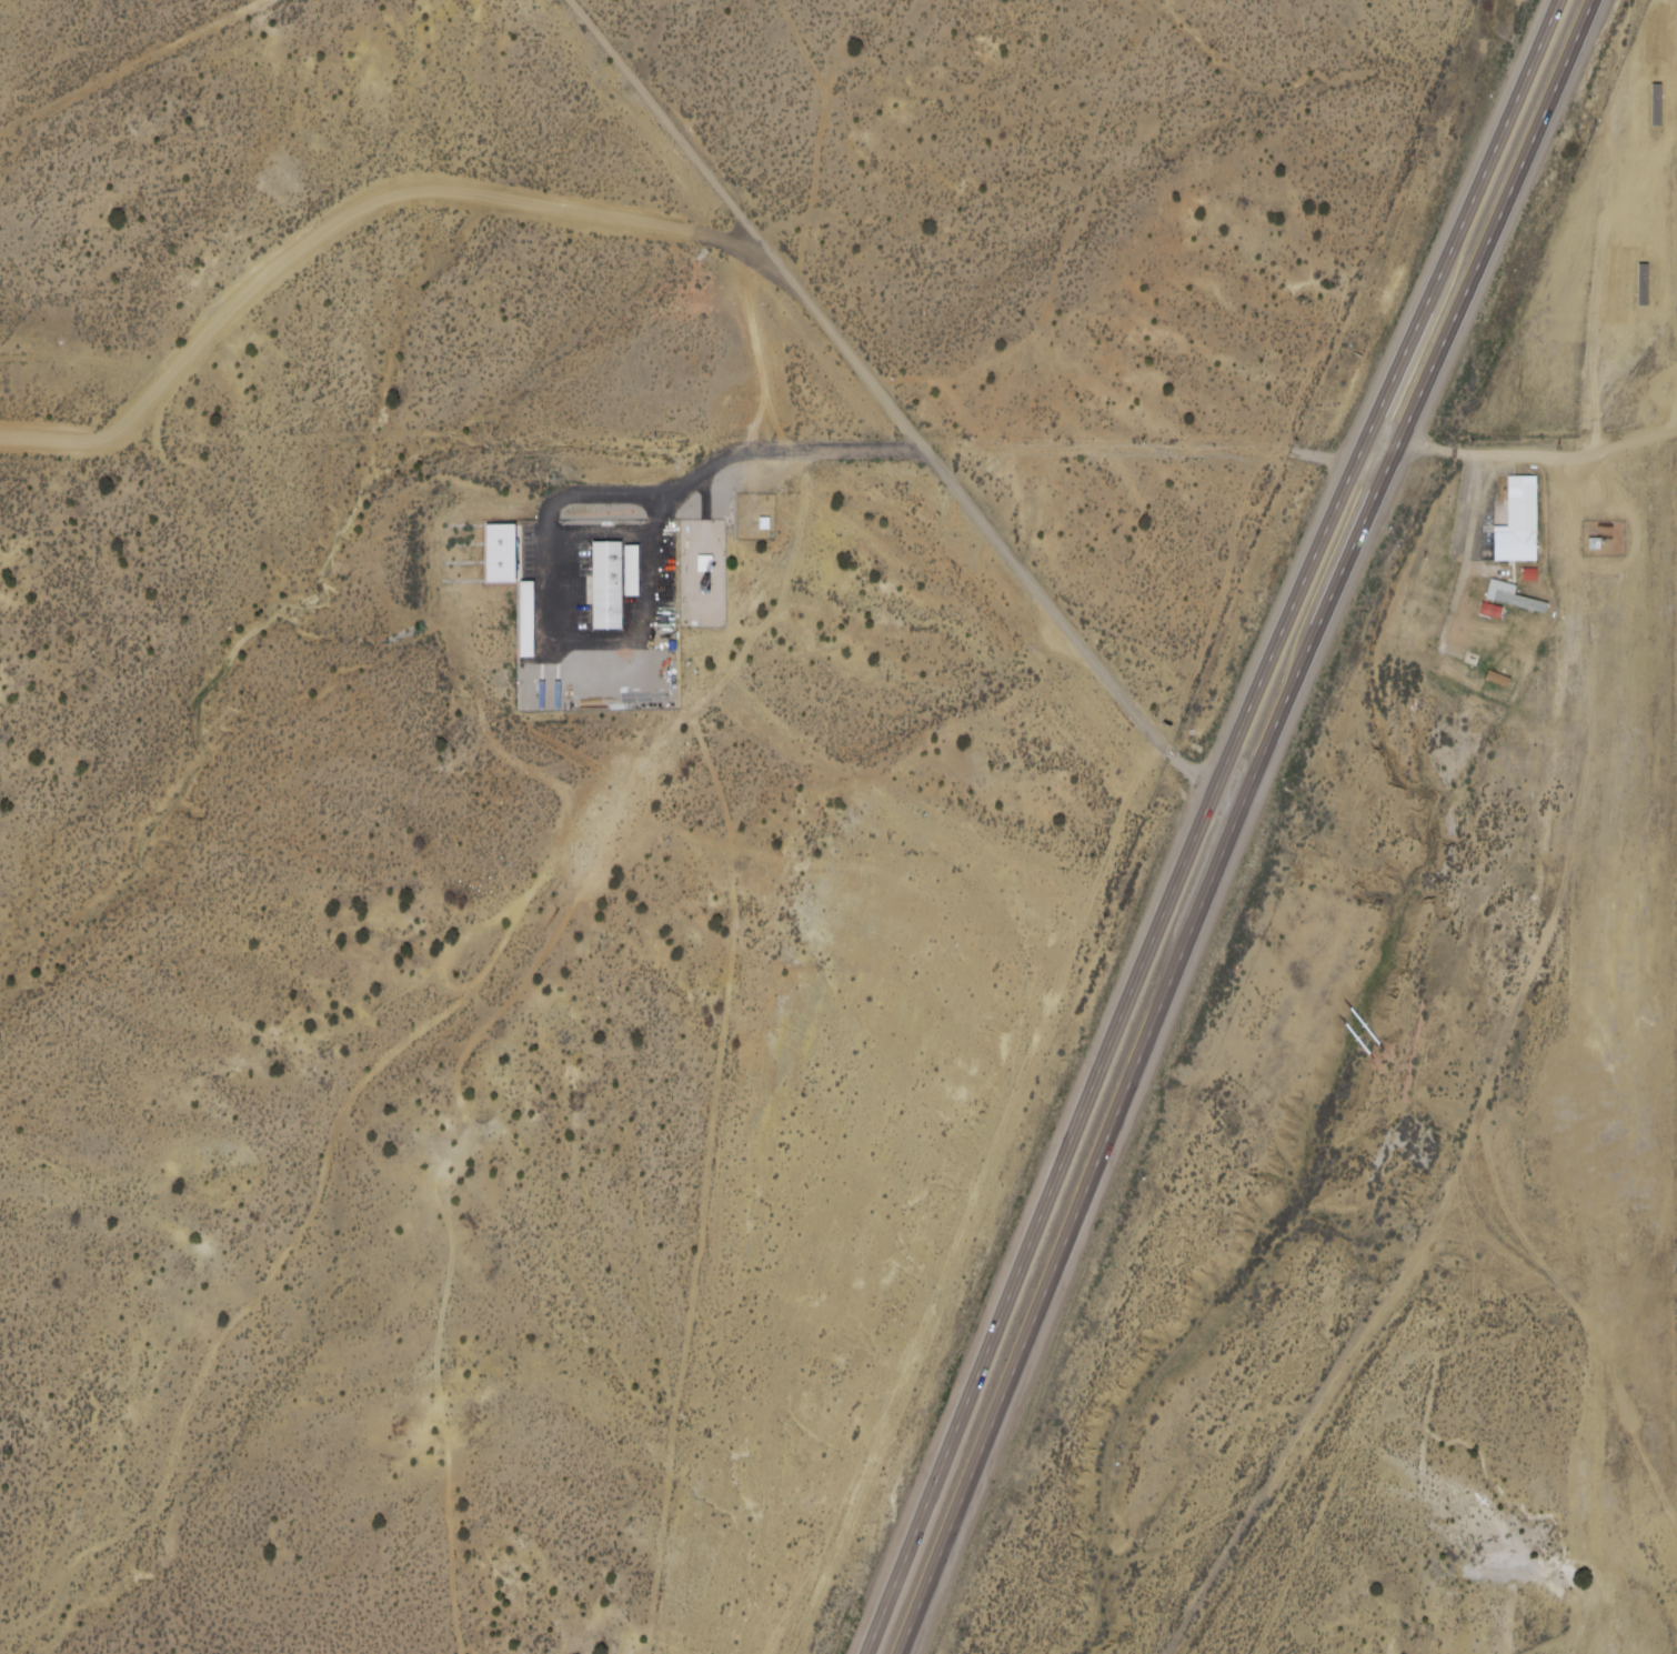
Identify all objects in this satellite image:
road: (131, 67)
road: (1614, 223)
road: (349, 228)
road: (897, 417)
road: (1675, 429)
road: (1141, 453)
road: (1524, 453)
road: (714, 501)
building: (1528, 524)
building: (773, 525)
road: (558, 537)
building: (1604, 549)
road: (1645, 549)
road: (1478, 555)
building: (513, 557)
building: (713, 565)
road: (1609, 569)
building: (641, 573)
building: (1538, 578)
building: (615, 589)
building: (1522, 600)
building: (1500, 614)
building: (535, 622)
road: (1460, 652)
building: (1482, 662)
building: (1510, 683)
road: (1255, 702)
road: (1241, 824)
road: (1583, 846)
road: (1655, 1301)
road: (1585, 1306)
road: (1316, 1436)
road: (914, 1532)

